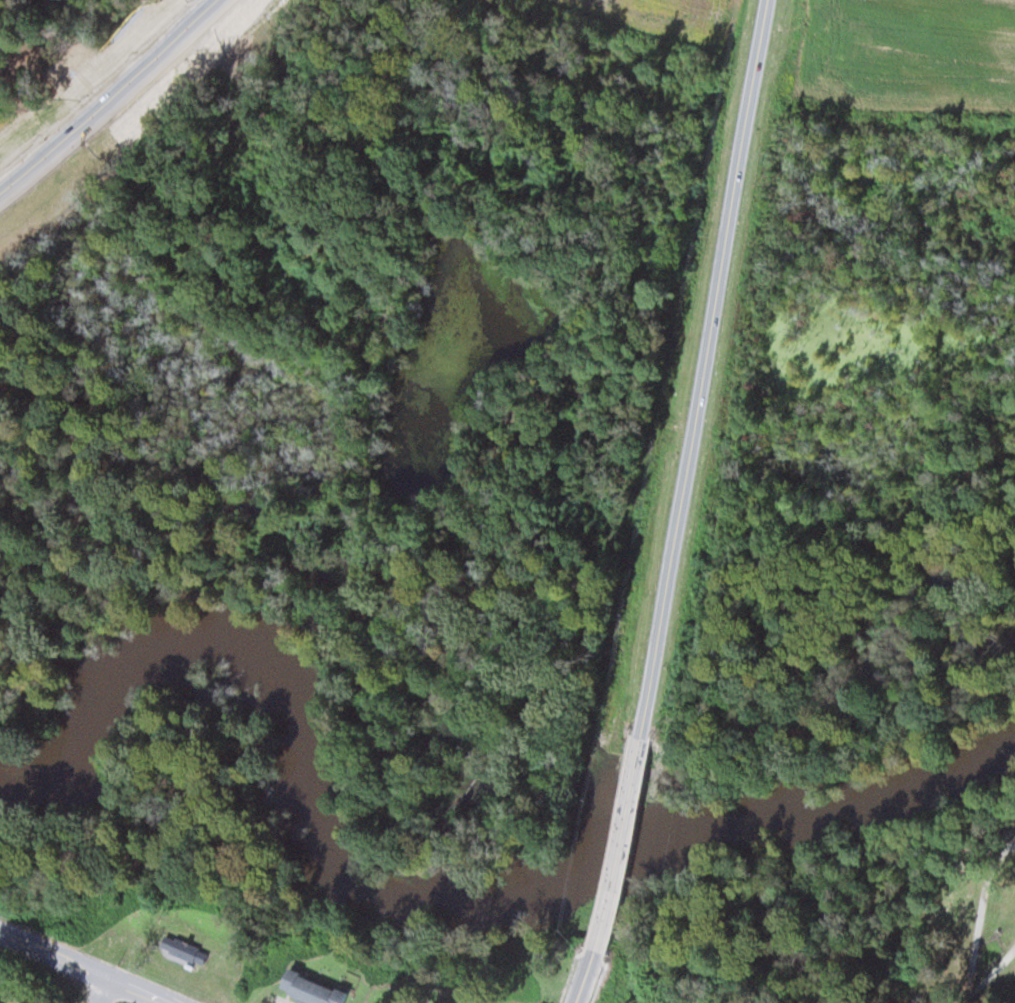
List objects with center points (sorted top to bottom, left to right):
road: (108, 99)
road: (703, 369)
road: (623, 844)
building: (182, 948)
road: (86, 966)
road: (584, 975)
road: (985, 976)
building: (306, 989)
road: (103, 990)

